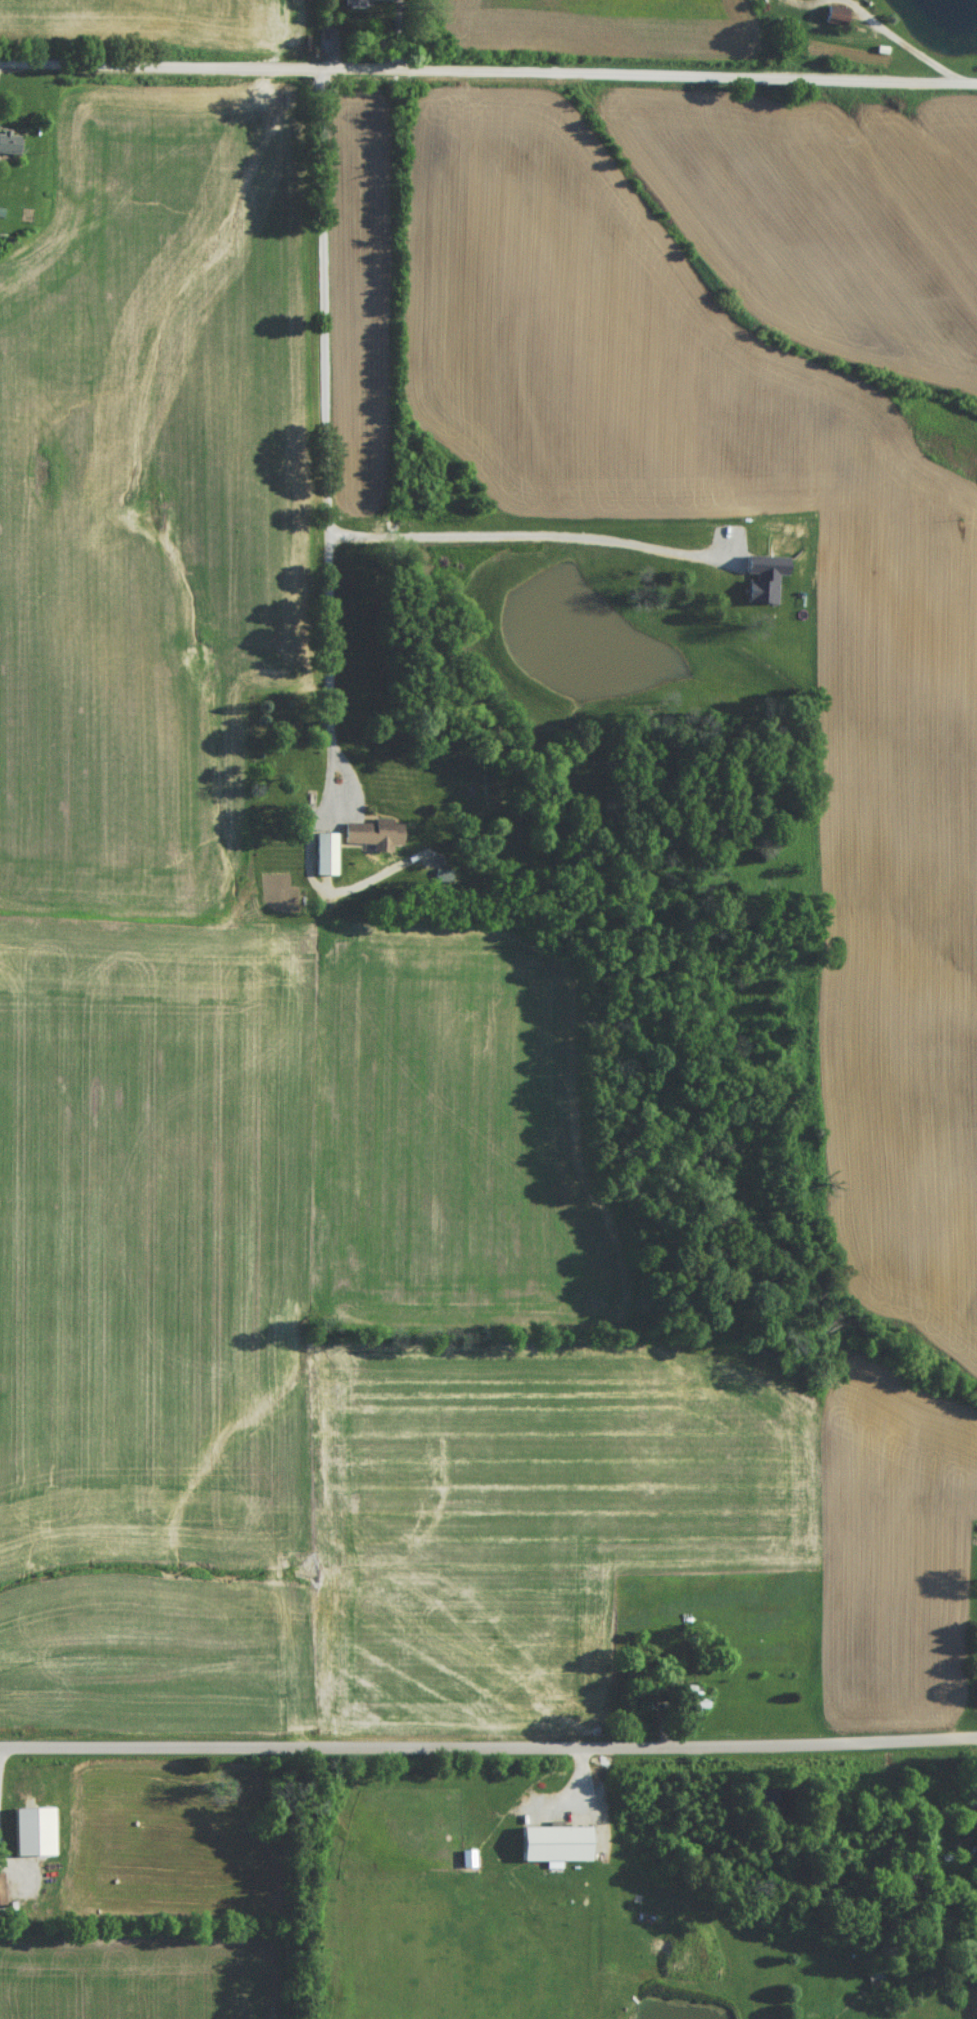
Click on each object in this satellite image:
building: (806, 0)
building: (360, 1)
building: (829, 22)
road: (908, 37)
road: (488, 64)
building: (9, 149)
road: (325, 425)
road: (525, 534)
building: (294, 795)
building: (371, 839)
building: (323, 859)
building: (442, 880)
building: (692, 1706)
road: (488, 1751)
road: (0, 1766)
building: (552, 1849)
road: (11, 1861)
building: (903, 1889)
building: (0, 1894)
building: (11, 1921)

